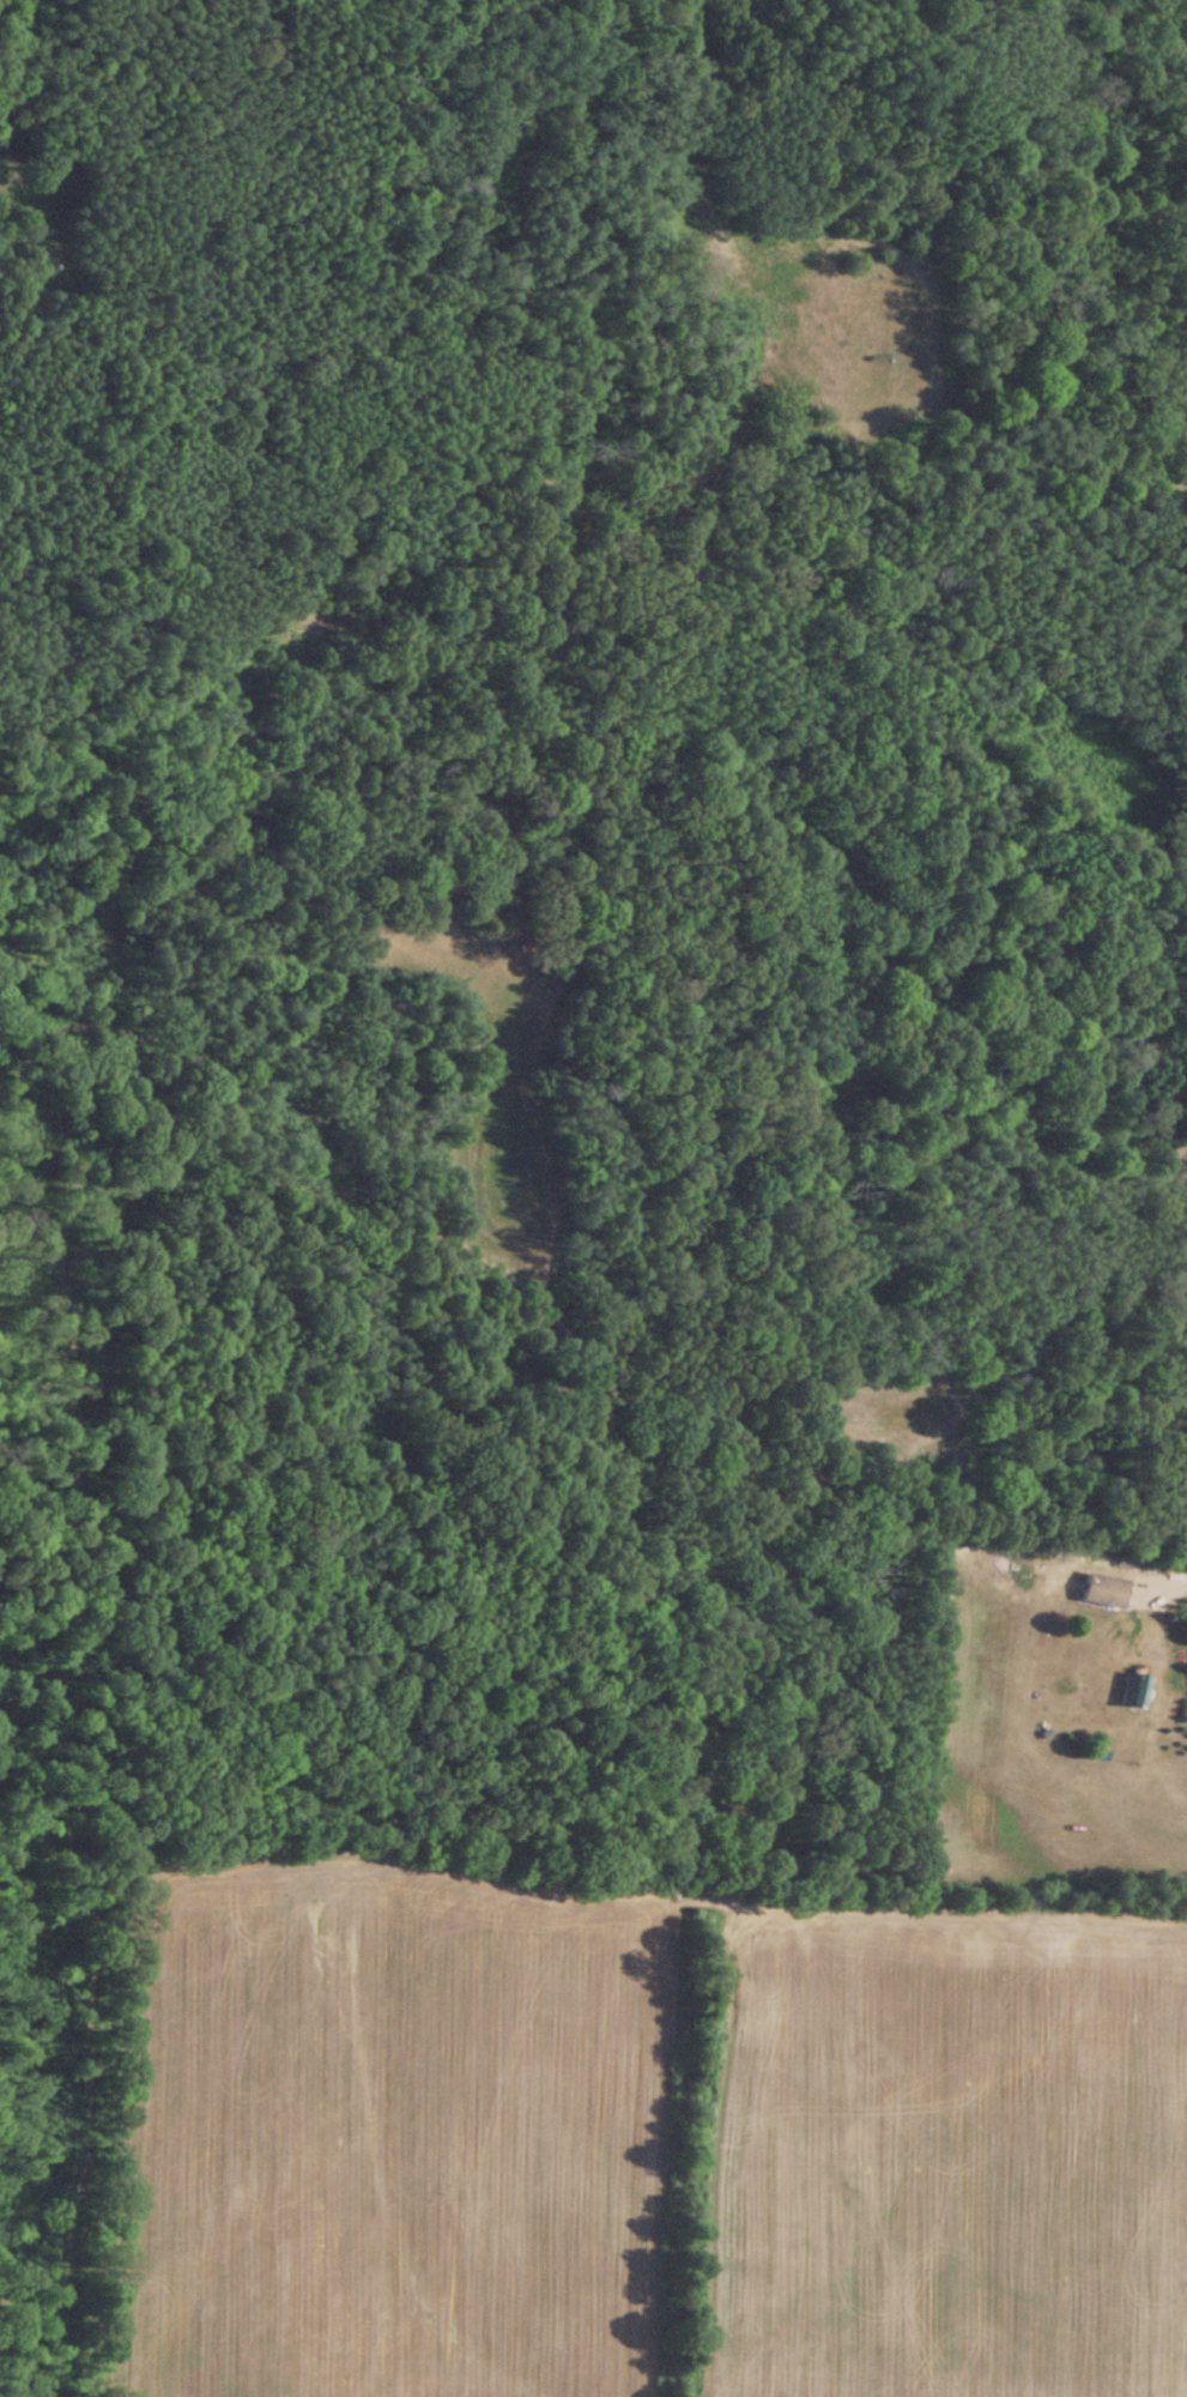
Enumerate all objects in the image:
building: (1102, 1589)
building: (1132, 1687)

